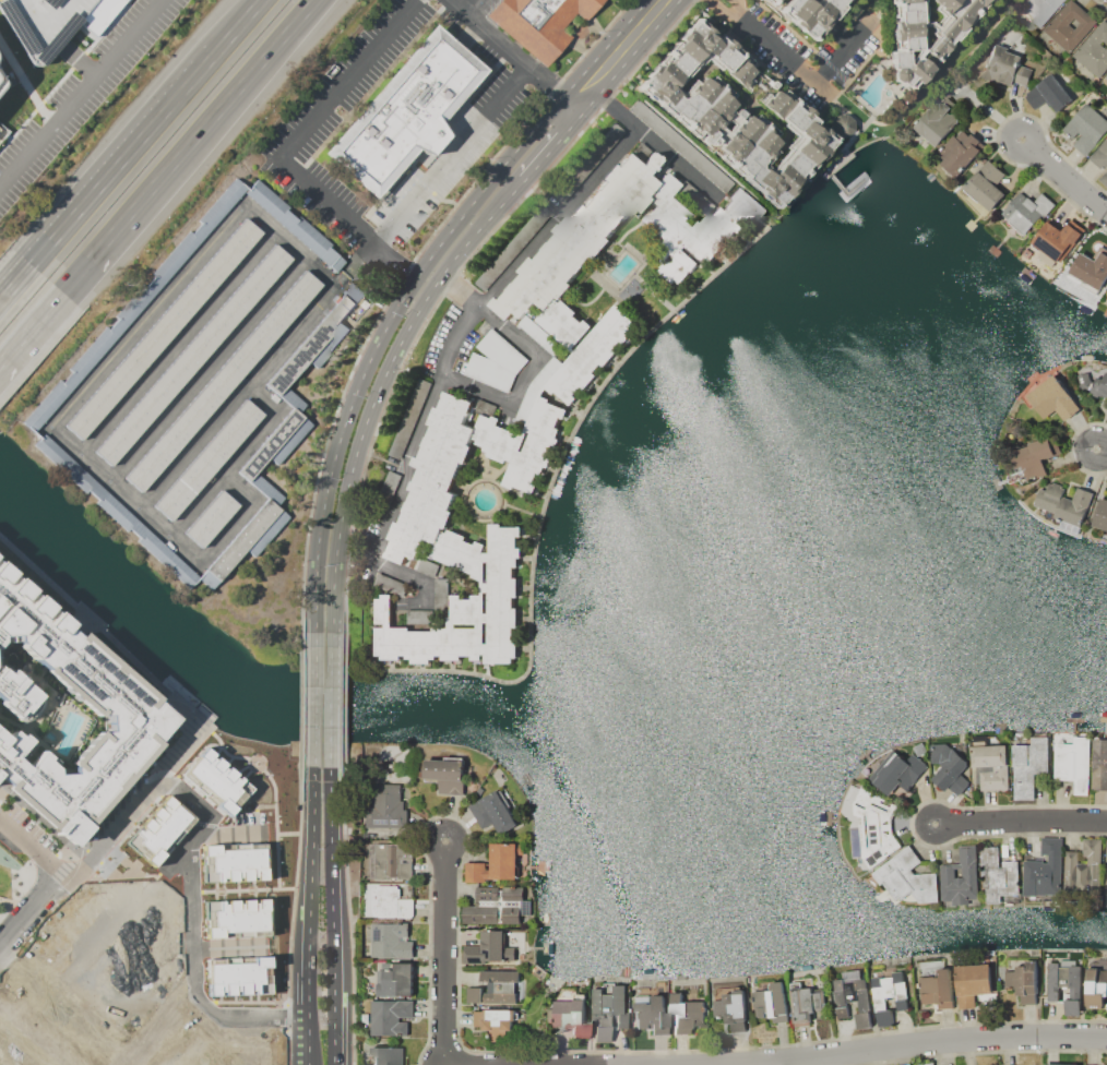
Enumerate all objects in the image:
road: (1103, 2)
road: (738, 7)
building: (1038, 9)
building: (806, 13)
road: (718, 14)
building: (51, 22)
building: (537, 23)
building: (1070, 25)
building: (924, 34)
road: (620, 44)
road: (507, 49)
building: (1094, 50)
building: (1005, 60)
building: (1106, 75)
road: (808, 76)
building: (0, 84)
road: (24, 85)
road: (75, 92)
building: (1049, 93)
road: (607, 107)
building: (730, 111)
building: (403, 112)
road: (993, 112)
building: (936, 121)
building: (838, 124)
building: (1086, 128)
road: (301, 129)
building: (2, 131)
road: (996, 132)
road: (150, 133)
road: (557, 136)
road: (191, 146)
building: (960, 151)
building: (1100, 154)
road: (450, 157)
road: (1068, 177)
building: (1104, 178)
building: (985, 190)
building: (1026, 212)
building: (293, 227)
building: (1058, 239)
building: (570, 252)
road: (394, 263)
building: (1090, 271)
road: (16, 286)
road: (457, 290)
road: (476, 304)
building: (134, 306)
road: (432, 307)
building: (1106, 309)
road: (384, 328)
road: (32, 330)
building: (160, 330)
building: (540, 334)
road: (175, 343)
building: (310, 343)
building: (328, 345)
building: (191, 355)
building: (495, 361)
road: (204, 369)
building: (221, 380)
road: (525, 382)
building: (1093, 383)
road: (378, 385)
building: (536, 388)
building: (418, 395)
building: (290, 398)
building: (1054, 398)
building: (289, 441)
building: (269, 444)
road: (192, 446)
road: (1070, 446)
road: (1100, 450)
road: (322, 454)
building: (206, 459)
building: (1031, 460)
road: (88, 463)
building: (435, 479)
building: (264, 490)
building: (1064, 503)
road: (195, 505)
building: (1102, 515)
building: (210, 517)
building: (246, 543)
road: (312, 698)
road: (330, 699)
road: (344, 703)
building: (66, 717)
building: (1073, 763)
building: (1099, 764)
building: (1028, 765)
building: (989, 766)
building: (950, 768)
building: (897, 771)
building: (445, 774)
building: (216, 783)
building: (385, 802)
building: (492, 813)
road: (1020, 821)
building: (876, 826)
road: (115, 830)
building: (159, 830)
road: (32, 846)
building: (393, 860)
building: (231, 861)
building: (496, 863)
building: (1083, 867)
building: (1045, 870)
park: (13, 874)
building: (998, 874)
building: (1106, 876)
building: (907, 877)
building: (960, 877)
road: (14, 878)
road: (29, 881)
road: (309, 886)
road: (346, 889)
building: (385, 900)
road: (4, 902)
road: (3, 905)
building: (495, 905)
road: (4, 909)
road: (330, 916)
building: (234, 919)
road: (32, 929)
building: (389, 940)
road: (188, 942)
building: (489, 948)
road: (442, 952)
building: (237, 973)
building: (397, 981)
building: (1024, 981)
building: (972, 982)
building: (1064, 984)
building: (1096, 986)
building: (495, 988)
building: (937, 988)
building: (889, 995)
building: (852, 996)
building: (805, 1001)
building: (771, 1002)
building: (730, 1005)
building: (607, 1010)
building: (687, 1010)
building: (572, 1014)
building: (651, 1014)
building: (390, 1016)
road: (285, 1017)
building: (496, 1021)
road: (128, 1024)
road: (47, 1026)
road: (306, 1036)
road: (285, 1048)
road: (888, 1048)
building: (182, 1050)
building: (386, 1055)
building: (1, 1063)
building: (925, 1063)
building: (903, 1064)
building: (1059, 1064)

